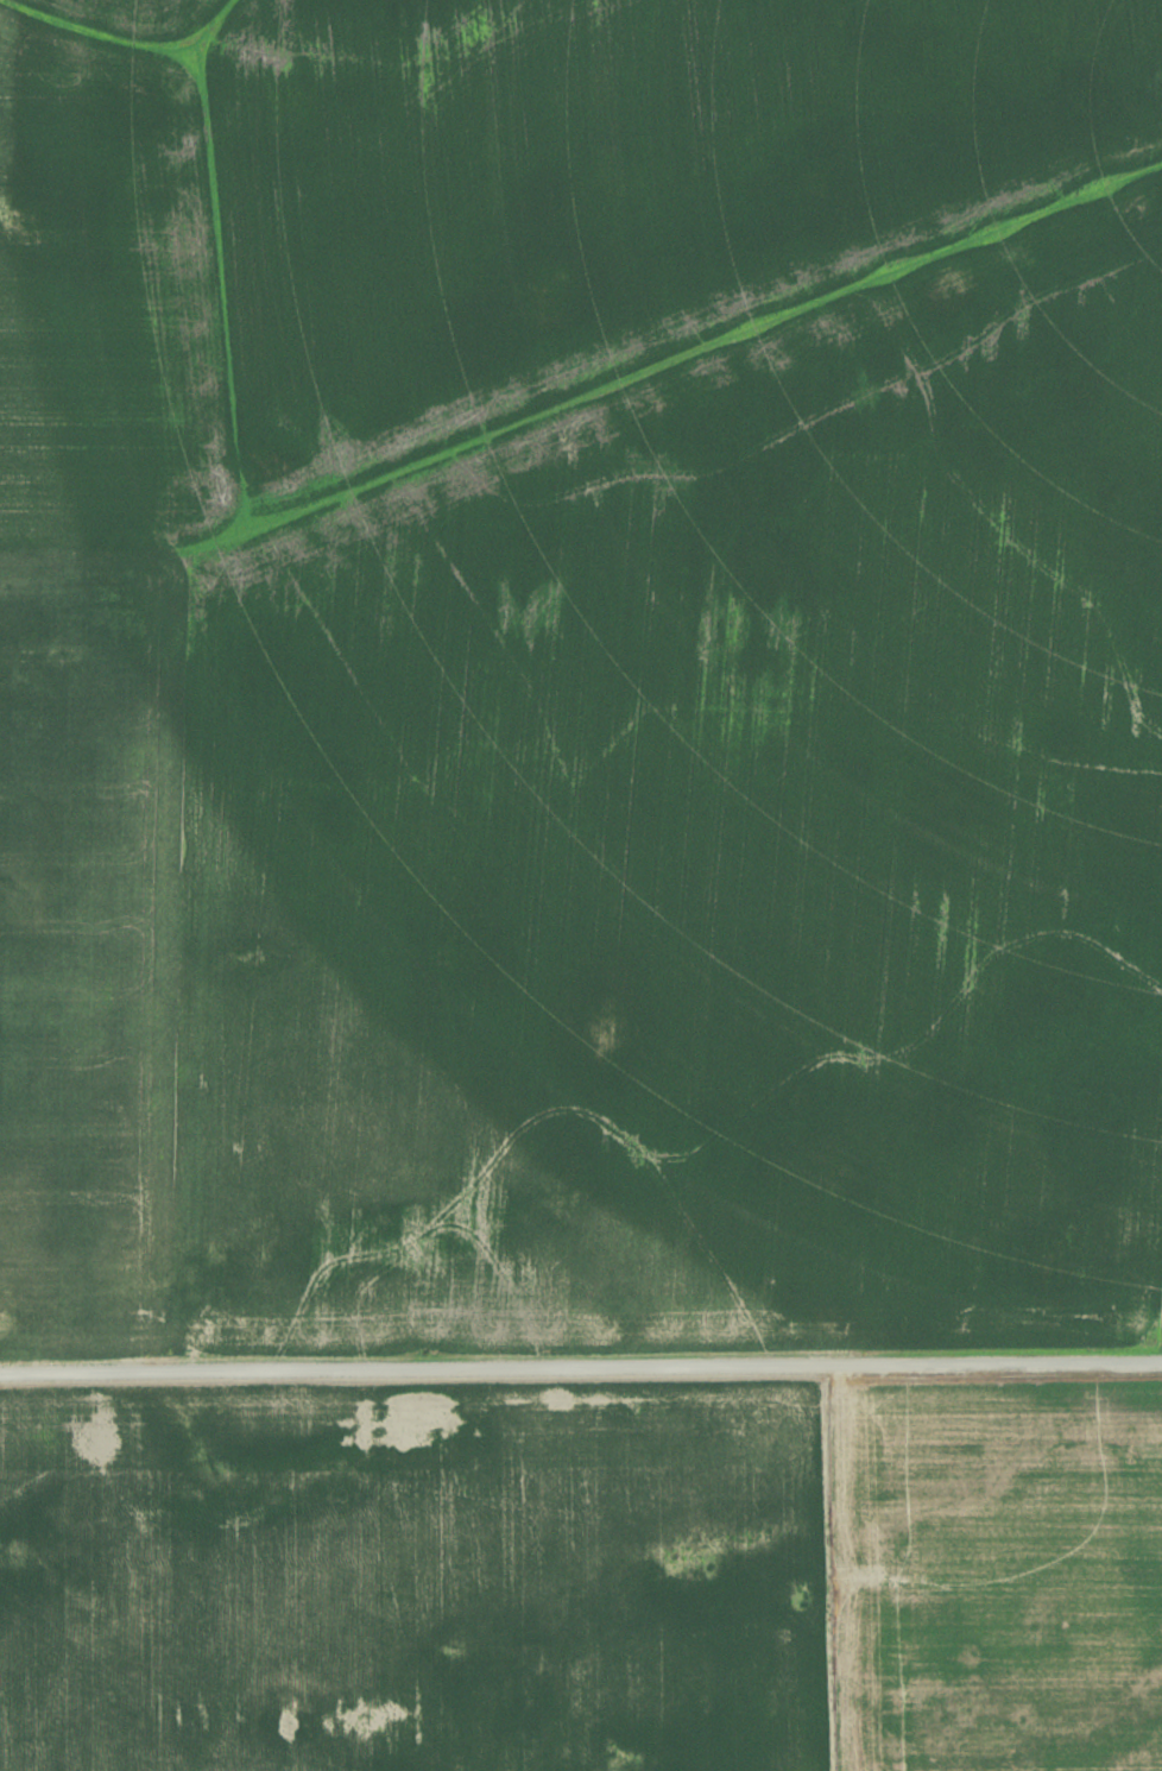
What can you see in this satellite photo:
road: (581, 1362)

